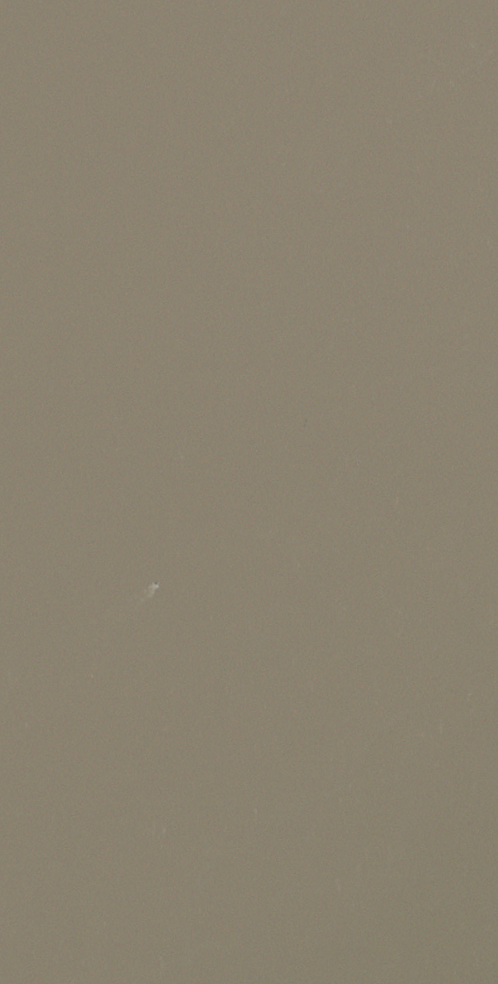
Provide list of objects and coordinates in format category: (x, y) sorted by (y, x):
river: (368, 862)

